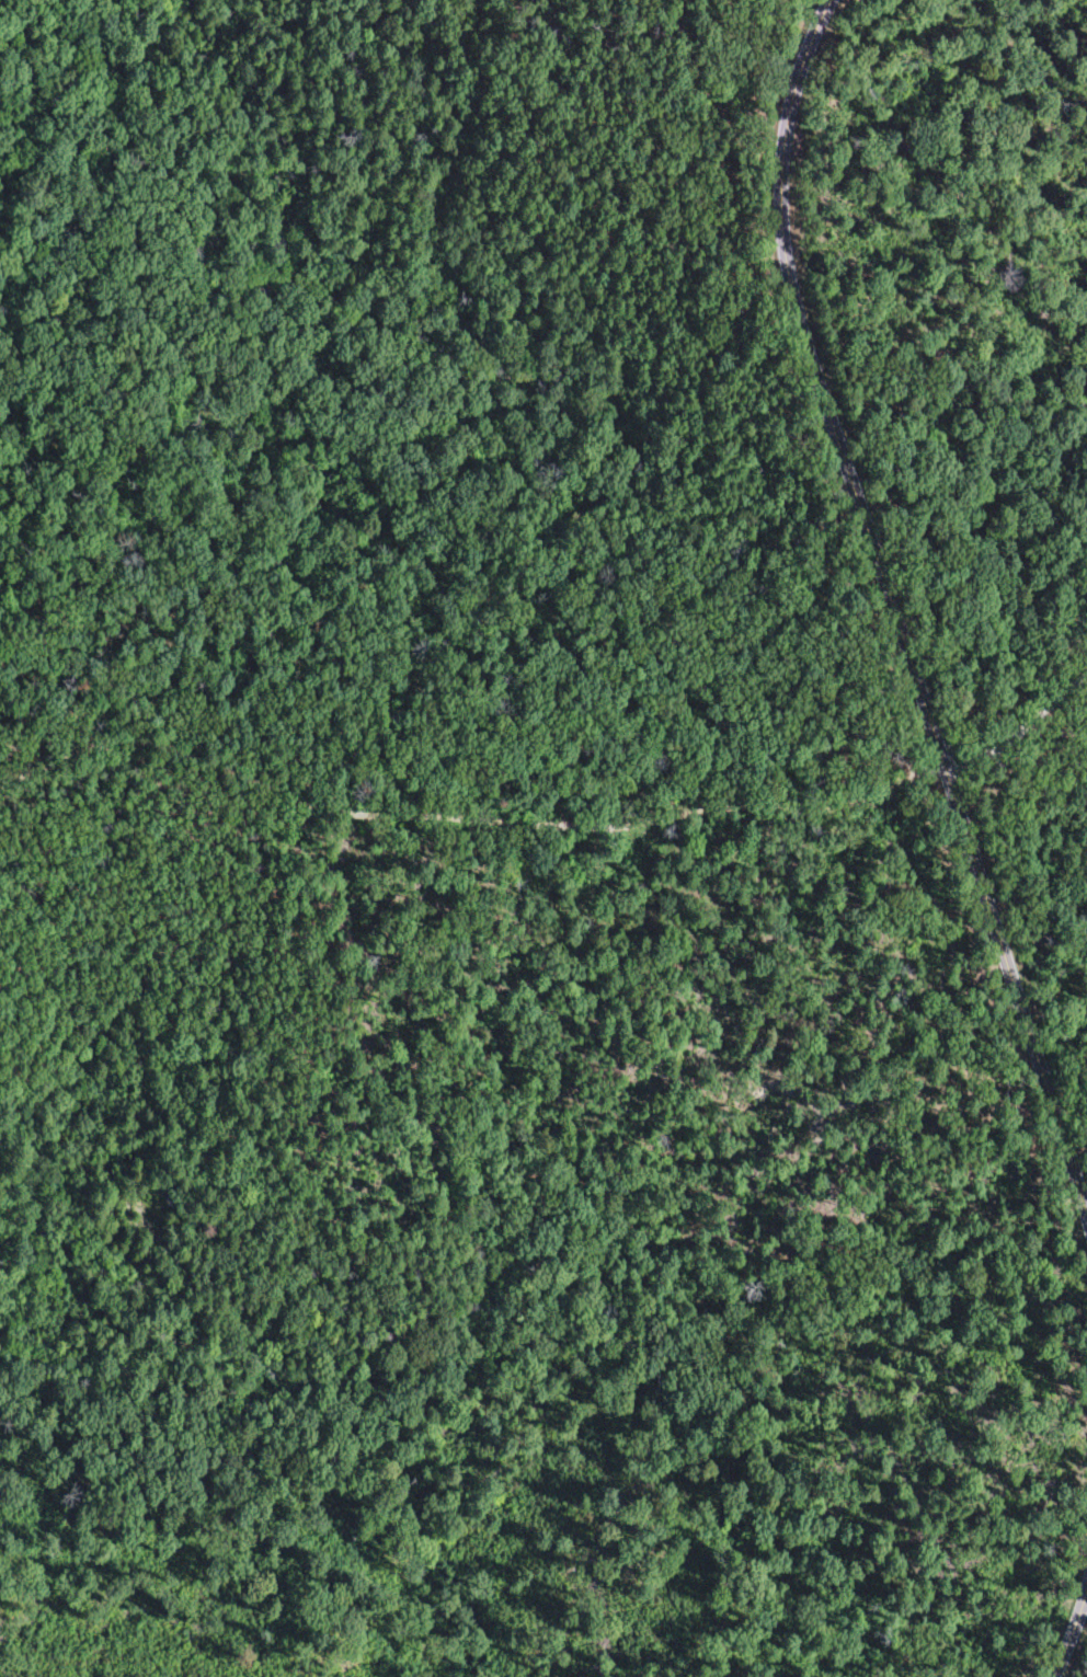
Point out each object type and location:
road: (890, 607)
road: (561, 832)
road: (1069, 1631)

